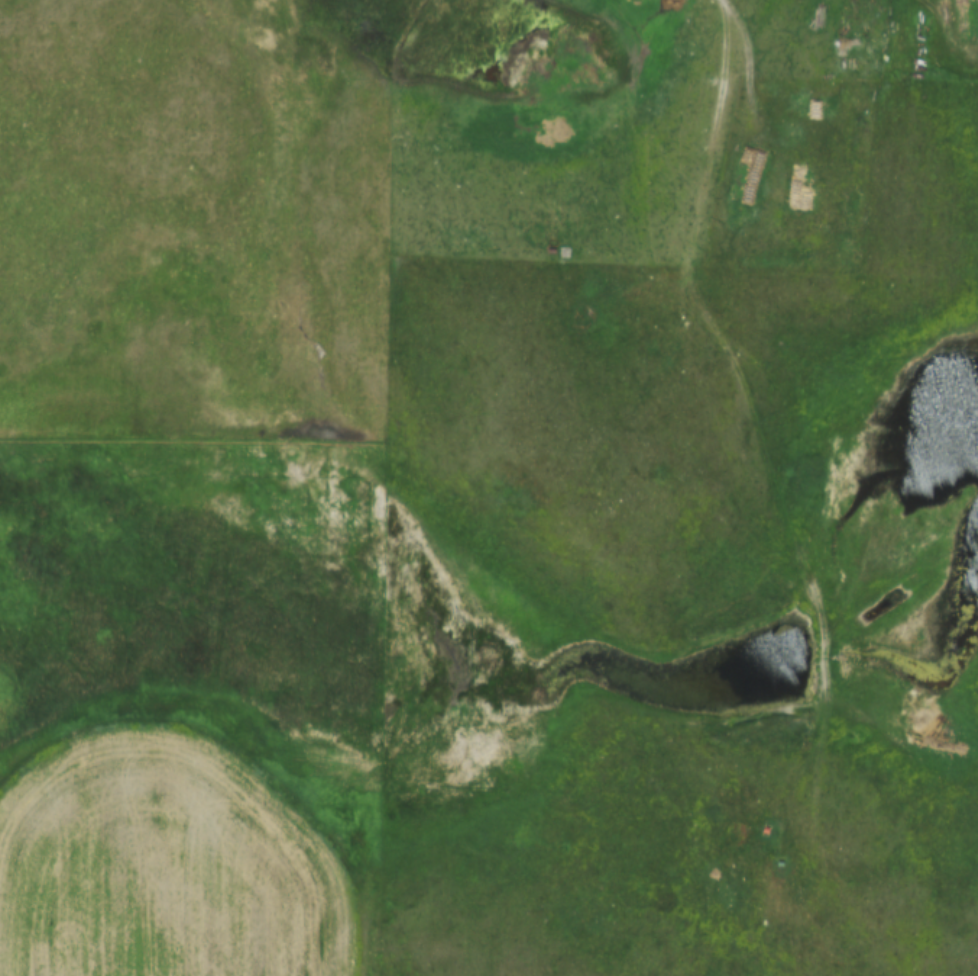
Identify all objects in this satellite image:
road: (746, 77)

